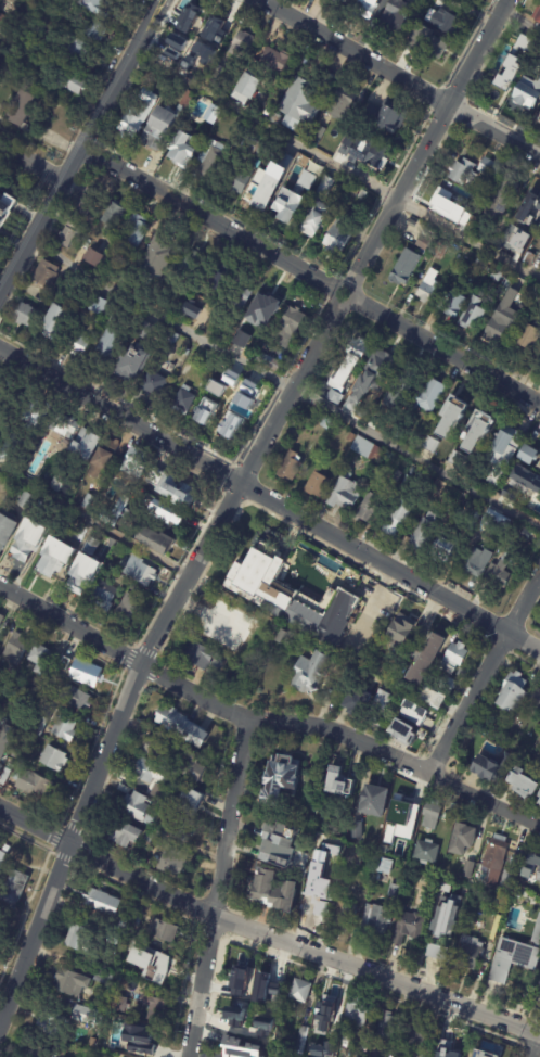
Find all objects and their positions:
building: (20, 1)
building: (344, 1)
building: (445, 1)
building: (99, 5)
building: (367, 8)
building: (396, 17)
building: (1, 18)
building: (539, 18)
building: (190, 21)
building: (443, 22)
building: (97, 31)
building: (216, 31)
building: (177, 41)
building: (426, 42)
building: (242, 46)
building: (73, 50)
building: (170, 51)
building: (215, 53)
building: (175, 56)
building: (192, 56)
building: (277, 61)
building: (11, 77)
road: (399, 77)
building: (73, 82)
building: (329, 82)
building: (501, 88)
building: (248, 89)
building: (525, 101)
building: (343, 104)
building: (299, 105)
building: (23, 109)
building: (138, 115)
building: (214, 115)
building: (387, 117)
building: (165, 124)
power tower: (101, 136)
road: (428, 142)
road: (79, 144)
building: (349, 144)
building: (183, 148)
building: (254, 148)
building: (372, 153)
building: (213, 161)
road: (30, 162)
road: (335, 164)
building: (490, 168)
building: (464, 173)
building: (239, 181)
building: (308, 181)
building: (271, 183)
building: (353, 193)
building: (363, 195)
building: (502, 200)
building: (86, 203)
building: (443, 203)
building: (288, 206)
building: (0, 208)
building: (320, 209)
road: (206, 216)
building: (114, 218)
building: (528, 218)
building: (3, 219)
building: (134, 232)
building: (68, 235)
building: (340, 235)
building: (426, 239)
building: (439, 251)
building: (158, 257)
building: (97, 259)
building: (190, 264)
building: (479, 264)
building: (404, 268)
building: (47, 276)
building: (498, 276)
building: (222, 277)
building: (505, 286)
road: (333, 288)
building: (430, 289)
building: (242, 292)
road: (353, 298)
building: (267, 305)
building: (98, 306)
building: (453, 306)
building: (191, 314)
building: (25, 316)
building: (474, 316)
building: (505, 320)
building: (56, 323)
building: (99, 324)
building: (292, 327)
building: (171, 336)
building: (224, 339)
building: (241, 339)
building: (531, 340)
building: (258, 342)
building: (79, 345)
building: (107, 347)
road: (447, 351)
building: (269, 362)
building: (350, 365)
building: (128, 368)
building: (376, 373)
building: (219, 377)
building: (0, 378)
building: (1, 381)
road: (284, 382)
building: (154, 385)
building: (400, 385)
building: (433, 395)
building: (335, 397)
building: (208, 398)
building: (184, 402)
building: (204, 405)
building: (235, 407)
building: (361, 412)
building: (35, 416)
building: (451, 418)
building: (63, 424)
building: (481, 430)
building: (351, 437)
building: (504, 443)
building: (87, 444)
building: (433, 445)
building: (367, 450)
building: (529, 455)
building: (104, 460)
building: (459, 460)
building: (136, 463)
building: (291, 467)
building: (0, 477)
building: (398, 477)
building: (520, 483)
building: (318, 484)
building: (63, 486)
building: (172, 488)
building: (346, 494)
road: (270, 499)
building: (27, 501)
building: (89, 502)
building: (370, 509)
building: (116, 511)
building: (536, 511)
building: (169, 513)
building: (399, 519)
road: (94, 521)
building: (7, 528)
building: (425, 533)
building: (80, 534)
building: (29, 540)
building: (159, 543)
building: (92, 547)
building: (446, 549)
building: (55, 558)
building: (479, 562)
building: (501, 571)
building: (141, 572)
building: (85, 574)
building: (292, 598)
building: (103, 600)
building: (129, 609)
building: (1, 620)
building: (217, 622)
building: (406, 625)
building: (15, 650)
road: (146, 651)
building: (202, 657)
building: (40, 659)
building: (454, 659)
building: (426, 661)
building: (65, 664)
building: (187, 670)
building: (0, 672)
road: (484, 672)
building: (312, 673)
building: (86, 674)
building: (462, 674)
building: (449, 685)
building: (4, 686)
building: (515, 692)
building: (76, 699)
building: (435, 699)
building: (536, 701)
building: (359, 703)
building: (382, 710)
building: (416, 714)
building: (37, 715)
building: (16, 716)
road: (263, 722)
building: (182, 727)
building: (64, 729)
building: (406, 733)
building: (2, 746)
building: (157, 750)
building: (20, 755)
building: (53, 760)
building: (489, 763)
building: (198, 769)
building: (152, 773)
building: (7, 775)
building: (282, 778)
building: (520, 780)
building: (342, 782)
building: (30, 784)
building: (124, 790)
building: (538, 792)
building: (162, 793)
building: (11, 800)
building: (539, 800)
building: (376, 801)
building: (193, 804)
building: (404, 807)
building: (139, 808)
building: (433, 815)
building: (393, 825)
building: (184, 830)
building: (358, 830)
building: (163, 833)
building: (124, 835)
building: (149, 838)
building: (318, 839)
building: (464, 839)
building: (281, 844)
building: (426, 852)
building: (358, 859)
building: (3, 862)
building: (172, 863)
building: (317, 865)
building: (497, 865)
building: (532, 865)
building: (385, 866)
building: (468, 869)
road: (217, 888)
building: (274, 891)
building: (10, 892)
building: (394, 892)
building: (321, 899)
building: (103, 902)
building: (501, 903)
building: (345, 915)
building: (446, 916)
building: (381, 921)
building: (136, 922)
building: (455, 927)
building: (409, 928)
building: (119, 931)
building: (166, 931)
road: (263, 934)
building: (79, 939)
building: (440, 950)
building: (470, 953)
building: (513, 954)
building: (128, 958)
building: (157, 964)
building: (237, 971)
building: (101, 977)
building: (166, 982)
building: (267, 982)
building: (68, 984)
building: (280, 988)
building: (298, 991)
building: (488, 991)
building: (501, 993)
building: (118, 1003)
building: (325, 1004)
building: (153, 1008)
building: (357, 1010)
building: (338, 1014)
building: (82, 1015)
building: (234, 1017)
building: (242, 1017)
building: (49, 1024)
building: (385, 1026)
building: (263, 1029)
building: (416, 1032)
building: (277, 1035)
building: (143, 1041)
building: (299, 1041)
building: (350, 1041)
building: (103, 1042)
building: (443, 1043)
road: (529, 1044)
building: (229, 1046)
building: (490, 1047)
building: (347, 1052)
building: (38, 1053)
building: (475, 1056)

